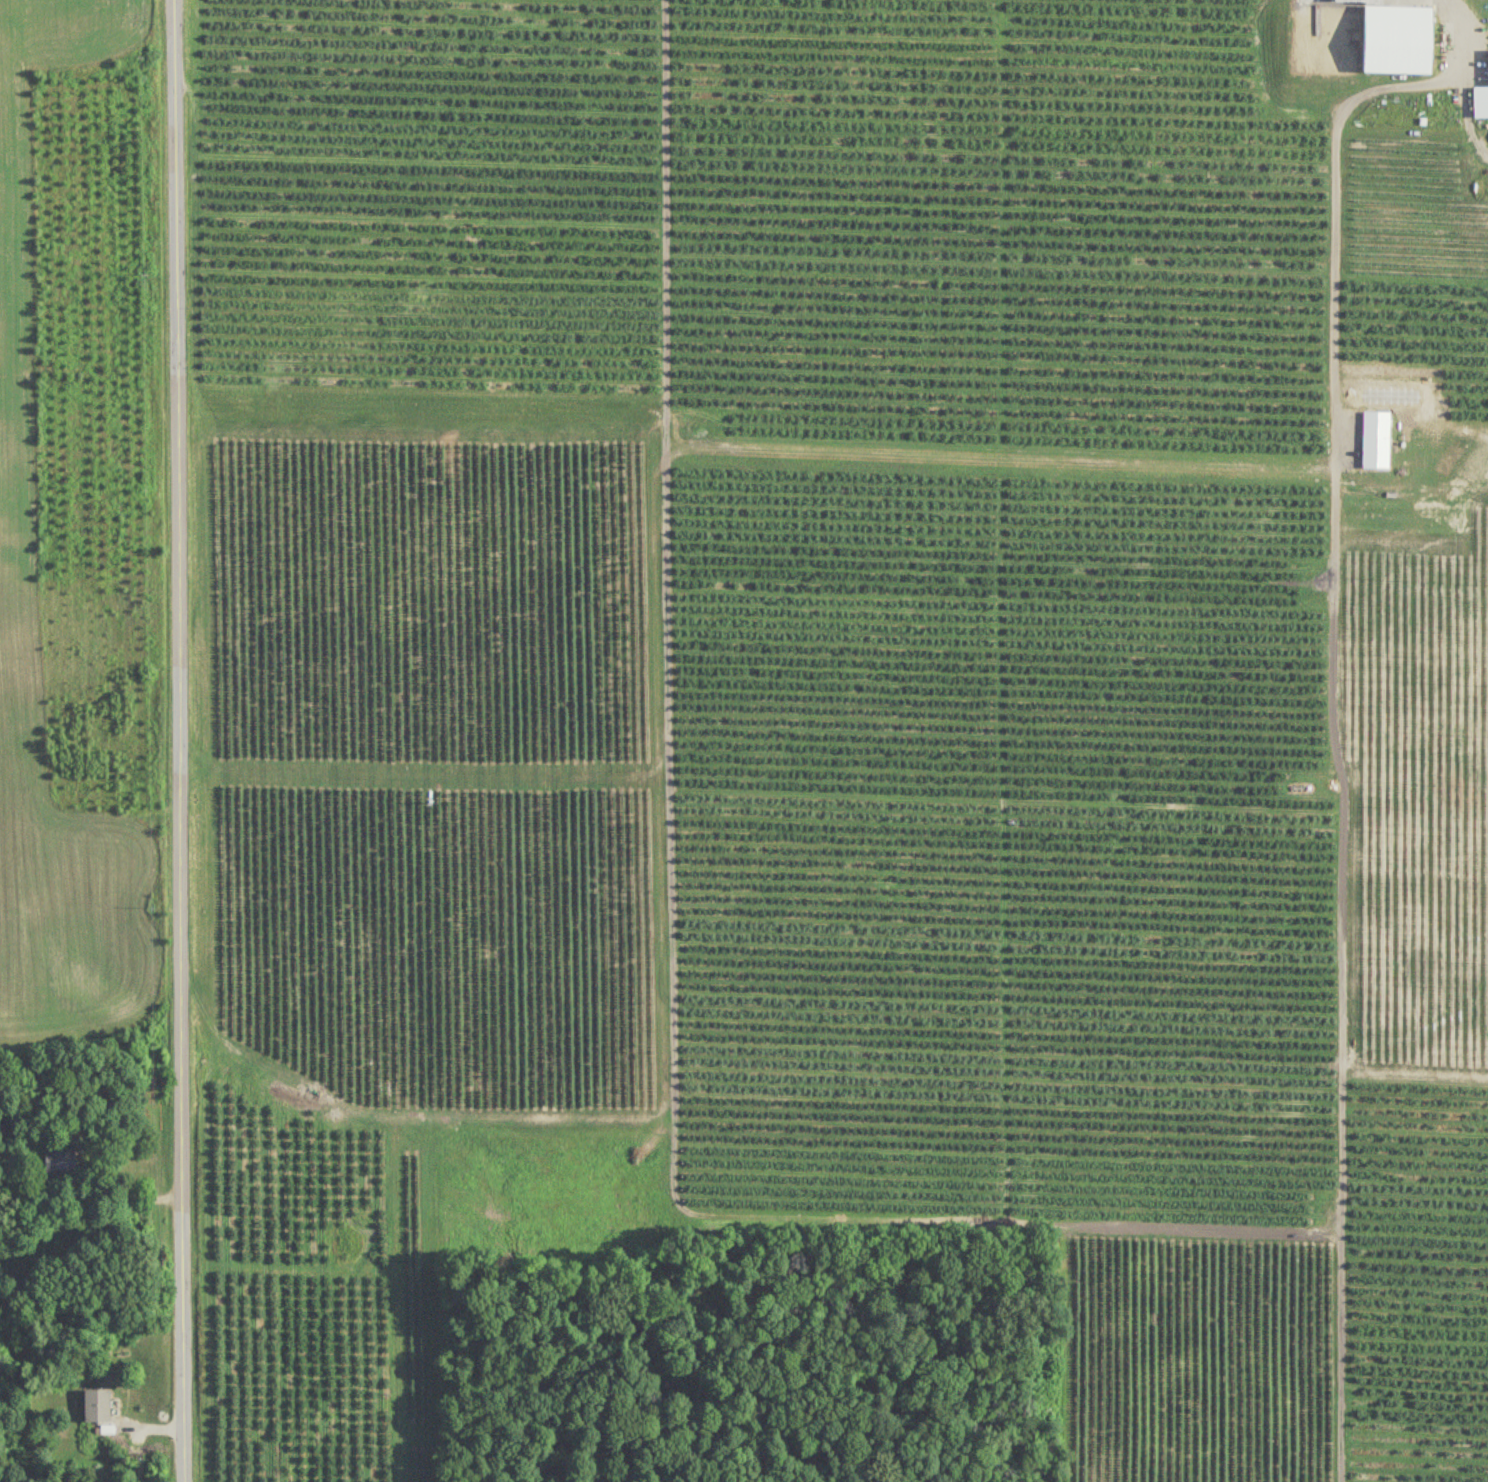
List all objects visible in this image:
building: (1399, 39)
building: (1481, 102)
road: (1334, 185)
road: (180, 740)
building: (61, 1159)
building: (98, 1407)

